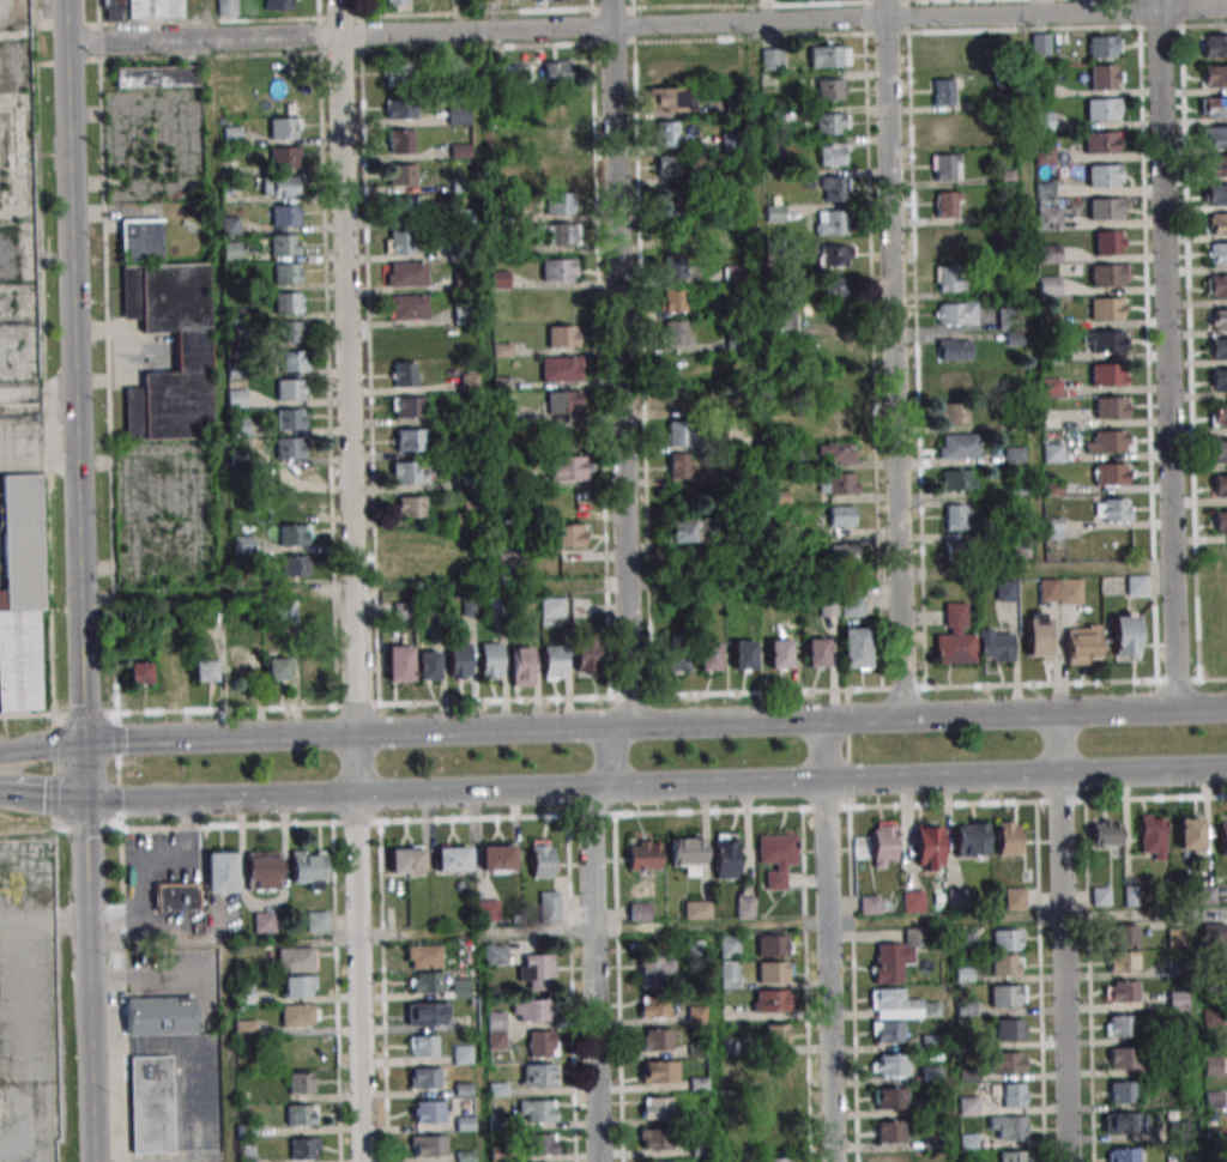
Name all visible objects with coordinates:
building: (552, 0)
building: (394, 2)
building: (278, 5)
building: (226, 8)
building: (140, 10)
road: (646, 26)
building: (1040, 43)
building: (1213, 46)
building: (1104, 47)
building: (944, 54)
building: (828, 55)
building: (770, 59)
building: (670, 69)
building: (729, 71)
building: (283, 72)
building: (555, 72)
building: (399, 73)
building: (1215, 75)
building: (156, 77)
building: (1104, 77)
building: (829, 90)
building: (943, 92)
building: (669, 98)
building: (1215, 107)
building: (400, 109)
building: (1102, 109)
building: (458, 115)
building: (1042, 121)
building: (830, 123)
building: (284, 128)
building: (947, 129)
building: (667, 133)
building: (231, 135)
building: (557, 137)
building: (1215, 137)
building: (400, 141)
building: (1101, 143)
building: (832, 155)
building: (285, 157)
building: (670, 165)
building: (1215, 165)
building: (945, 167)
building: (558, 169)
building: (401, 175)
building: (1104, 175)
building: (278, 186)
building: (833, 188)
building: (1215, 194)
building: (561, 202)
building: (672, 202)
building: (948, 204)
building: (404, 208)
building: (1104, 208)
building: (285, 216)
building: (1048, 217)
building: (830, 223)
building: (1216, 223)
building: (560, 234)
building: (140, 240)
building: (947, 242)
building: (1108, 242)
building: (399, 243)
building: (284, 244)
building: (231, 250)
building: (1048, 253)
building: (1217, 253)
building: (835, 255)
building: (675, 266)
building: (558, 270)
building: (286, 273)
building: (405, 273)
building: (1106, 274)
building: (947, 278)
building: (500, 279)
building: (1048, 285)
building: (1217, 286)
building: (838, 289)
building: (673, 299)
building: (289, 302)
building: (406, 307)
building: (1107, 308)
building: (956, 313)
building: (782, 316)
building: (1008, 319)
building: (1217, 320)
building: (290, 331)
building: (675, 333)
building: (564, 337)
building: (1102, 340)
building: (1219, 349)
building: (954, 350)
building: (192, 352)
building: (839, 352)
road: (1165, 353)
road: (887, 359)
building: (294, 361)
building: (561, 368)
building: (404, 374)
building: (1107, 374)
building: (1219, 380)
building: (955, 382)
building: (839, 388)
building: (290, 389)
building: (681, 398)
building: (236, 399)
building: (564, 403)
building: (407, 407)
building: (1111, 407)
building: (953, 413)
building: (1219, 416)
building: (290, 419)
building: (838, 422)
building: (681, 432)
building: (410, 440)
building: (1110, 442)
building: (957, 446)
building: (290, 448)
building: (834, 452)
building: (1220, 452)
road: (37, 458)
building: (682, 466)
building: (569, 467)
building: (407, 473)
building: (1111, 474)
building: (290, 477)
building: (957, 480)
building: (836, 483)
building: (1220, 485)
building: (574, 503)
building: (290, 506)
building: (411, 507)
building: (1112, 509)
building: (841, 515)
building: (959, 516)
building: (1220, 521)
building: (1052, 528)
building: (682, 531)
building: (295, 534)
building: (568, 534)
building: (411, 539)
building: (22, 540)
building: (242, 544)
building: (961, 550)
building: (842, 553)
building: (508, 563)
building: (294, 565)
road: (761, 577)
road: (78, 581)
road: (350, 581)
road: (605, 581)
building: (1136, 586)
building: (1005, 591)
building: (1059, 591)
building: (852, 605)
building: (319, 609)
building: (285, 610)
building: (551, 610)
building: (430, 611)
building: (401, 612)
building: (1038, 636)
building: (1125, 636)
building: (955, 639)
building: (1083, 644)
building: (996, 646)
building: (856, 648)
building: (816, 653)
building: (586, 654)
building: (743, 654)
building: (779, 654)
building: (709, 655)
building: (241, 658)
building: (19, 659)
building: (459, 660)
building: (491, 660)
building: (676, 660)
building: (554, 661)
building: (399, 662)
building: (428, 665)
building: (312, 666)
building: (521, 666)
building: (277, 668)
building: (205, 671)
building: (139, 672)
road: (612, 726)
traffic signals: (81, 744)
road: (1058, 745)
road: (823, 751)
road: (654, 787)
road: (42, 793)
traffic signals: (84, 800)
building: (1105, 831)
building: (1189, 831)
building: (1152, 836)
building: (1222, 836)
building: (971, 839)
building: (1008, 839)
building: (883, 843)
building: (929, 847)
building: (687, 851)
building: (643, 855)
building: (725, 857)
building: (776, 857)
building: (497, 858)
building: (406, 859)
building: (453, 859)
building: (542, 859)
road: (143, 863)
building: (309, 869)
building: (264, 870)
building: (222, 872)
building: (1100, 896)
building: (176, 897)
building: (956, 897)
building: (1014, 898)
building: (912, 901)
building: (869, 904)
building: (549, 907)
building: (745, 907)
building: (696, 909)
building: (488, 910)
building: (639, 912)
building: (265, 921)
building: (316, 921)
road: (792, 922)
building: (1211, 931)
building: (1123, 936)
building: (1175, 937)
building: (1005, 939)
building: (963, 940)
building: (774, 945)
building: (729, 946)
building: (494, 954)
building: (896, 955)
building: (423, 956)
building: (296, 960)
building: (1122, 961)
building: (1005, 964)
road: (1063, 968)
building: (657, 969)
building: (536, 972)
building: (774, 972)
road: (828, 972)
building: (729, 975)
road: (223, 982)
building: (425, 982)
building: (300, 986)
building: (460, 988)
building: (1120, 991)
building: (243, 993)
building: (1007, 995)
building: (1177, 999)
building: (772, 1000)
building: (900, 1005)
building: (653, 1006)
building: (532, 1010)
building: (427, 1013)
building: (159, 1015)
building: (298, 1015)
building: (696, 1015)
building: (1119, 1025)
building: (1009, 1029)
building: (496, 1030)
building: (887, 1031)
building: (776, 1034)
building: (655, 1039)
building: (542, 1043)
building: (423, 1046)
building: (303, 1049)
building: (1123, 1058)
building: (1007, 1063)
building: (889, 1065)
building: (776, 1069)
building: (659, 1071)
building: (539, 1075)
building: (424, 1077)
building: (301, 1082)
building: (1123, 1091)
building: (1011, 1094)
building: (890, 1097)
building: (778, 1101)
building: (151, 1104)
building: (967, 1106)
building: (657, 1108)
building: (538, 1110)
building: (428, 1112)
building: (301, 1114)
building: (1125, 1122)
building: (1007, 1127)
building: (889, 1131)
building: (1179, 1131)
building: (773, 1136)
building: (655, 1139)
building: (543, 1144)
building: (428, 1145)
building: (304, 1148)
building: (246, 1154)
building: (1123, 1155)
building: (1013, 1156)
building: (893, 1158)
building: (776, 1160)

